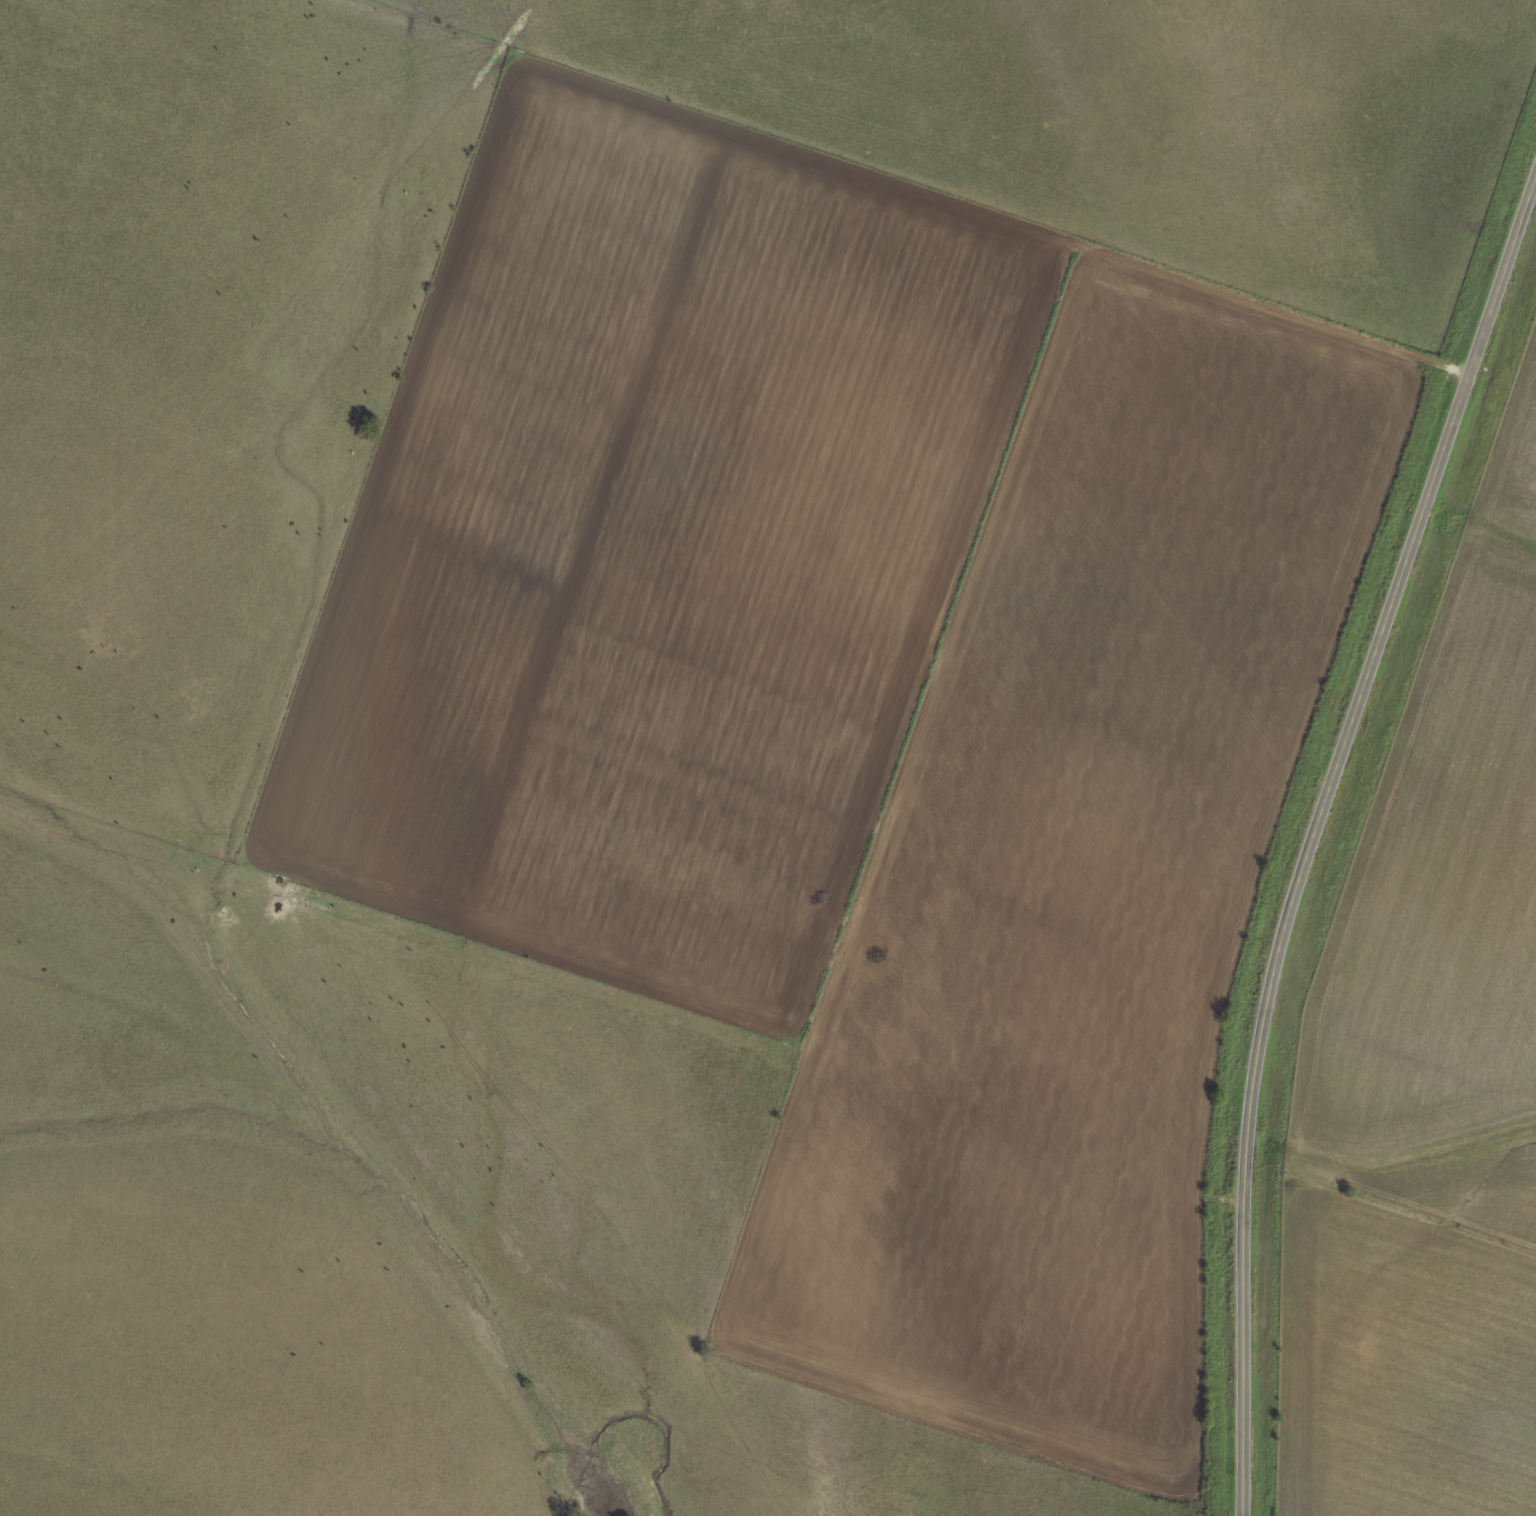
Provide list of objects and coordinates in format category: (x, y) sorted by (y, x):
road: (1313, 829)

